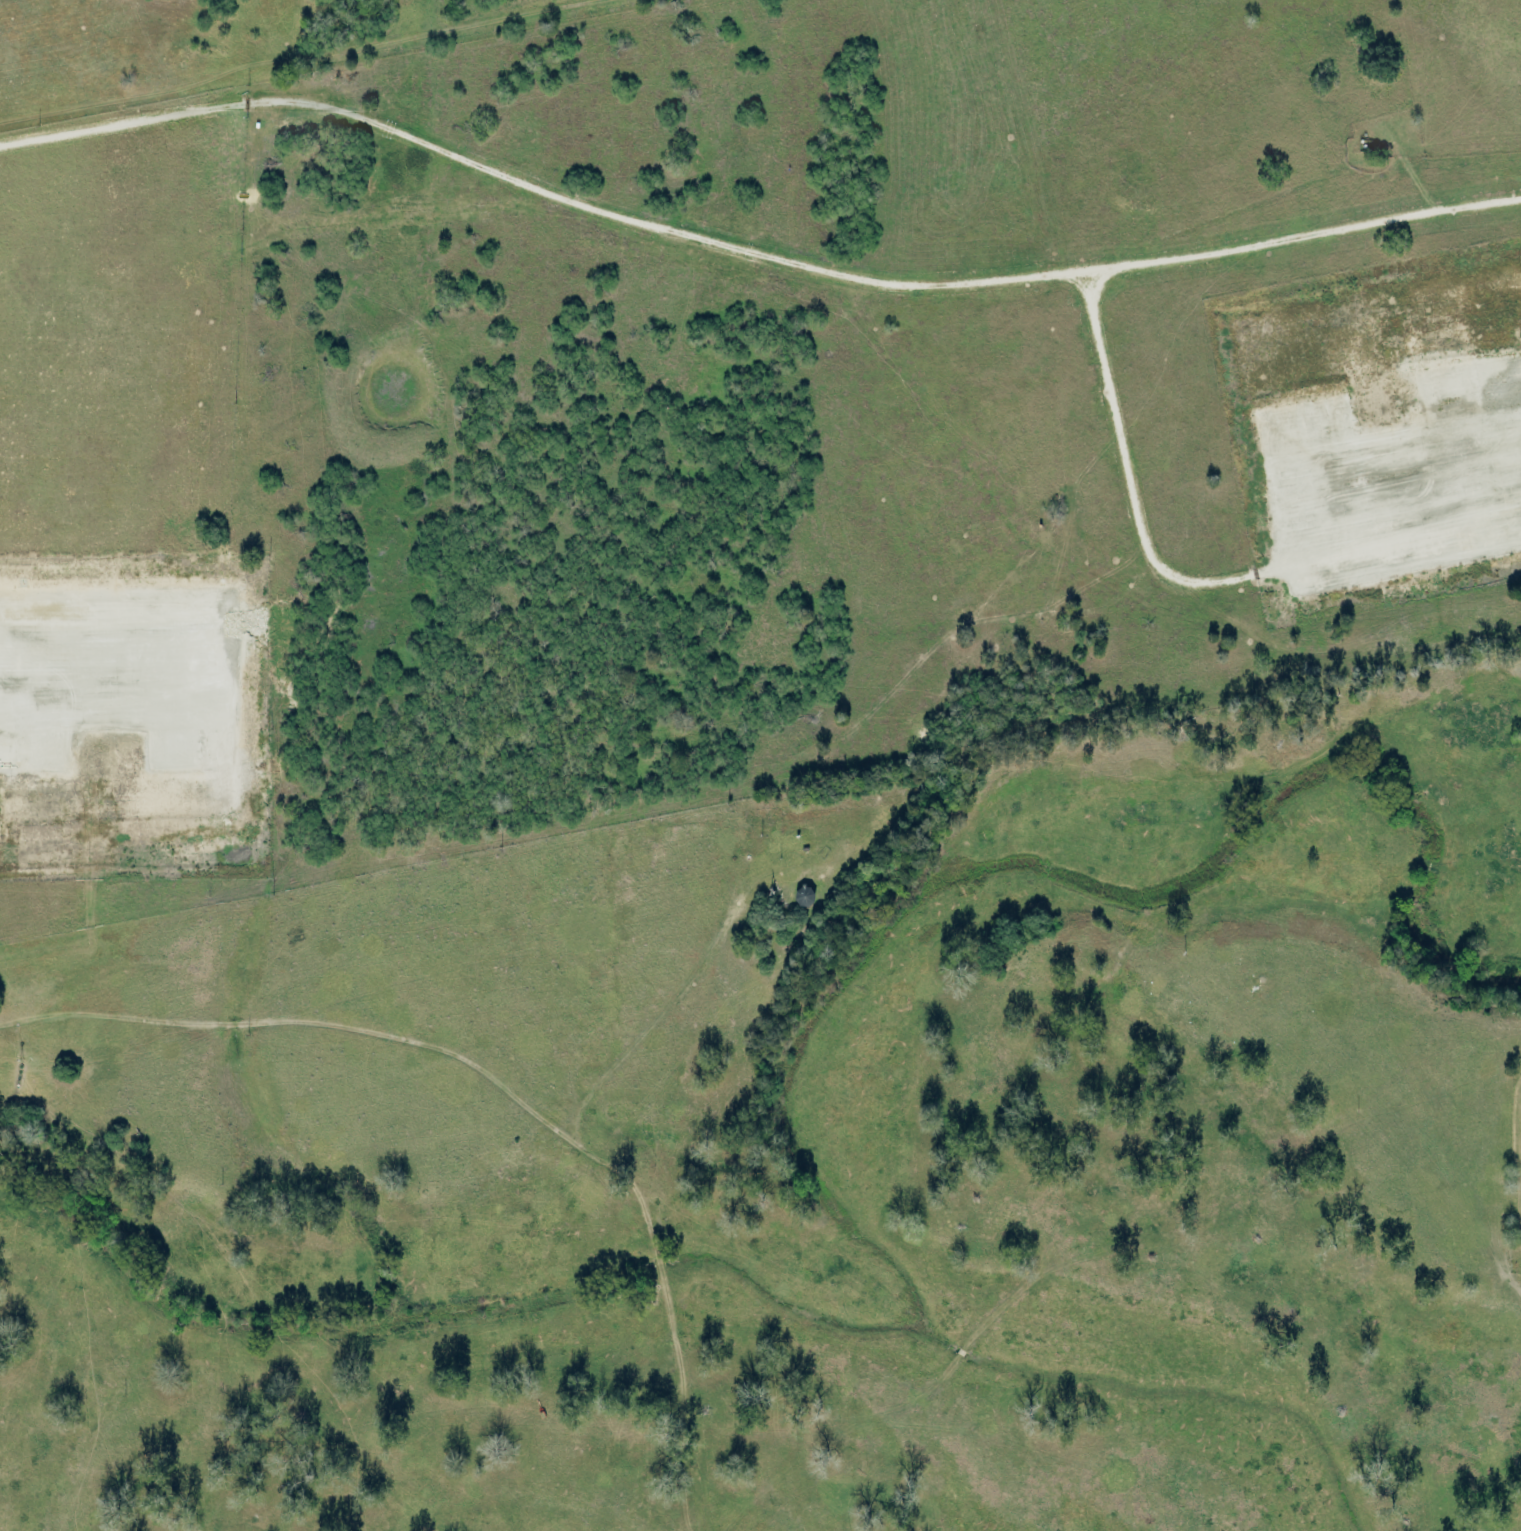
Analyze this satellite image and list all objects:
road: (755, 250)

